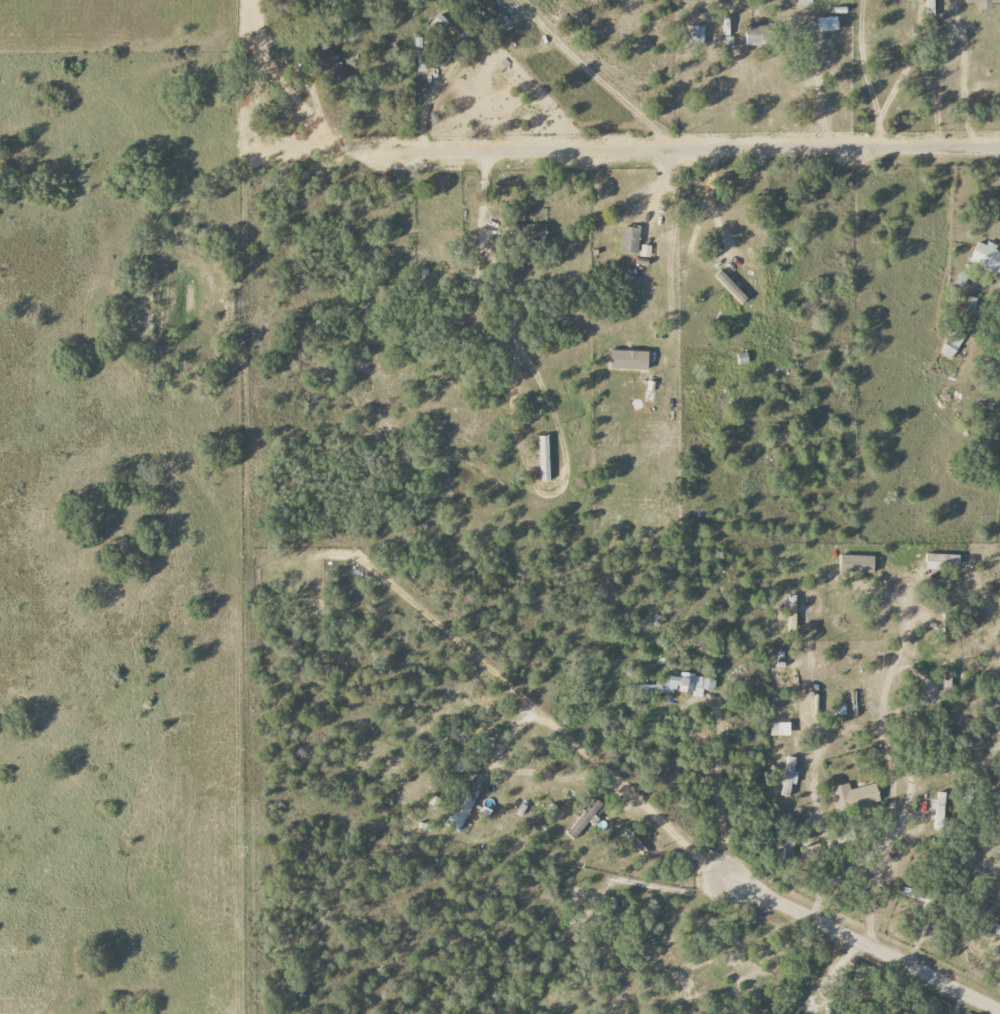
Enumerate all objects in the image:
building: (804, 1)
building: (984, 3)
building: (440, 22)
building: (827, 24)
building: (696, 35)
building: (755, 35)
road: (861, 58)
road: (905, 60)
building: (328, 63)
road: (601, 74)
road: (820, 92)
road: (963, 93)
road: (301, 103)
road: (883, 133)
road: (703, 149)
road: (672, 234)
building: (629, 240)
road: (687, 245)
building: (986, 257)
road: (491, 258)
building: (962, 279)
building: (731, 287)
building: (967, 303)
building: (952, 345)
building: (629, 360)
building: (544, 458)
building: (942, 561)
building: (856, 564)
road: (436, 623)
building: (679, 686)
building: (780, 729)
road: (562, 730)
road: (889, 756)
building: (789, 776)
road: (718, 791)
building: (853, 797)
building: (938, 808)
building: (458, 812)
building: (584, 819)
building: (997, 931)
road: (861, 945)
road: (957, 1003)

